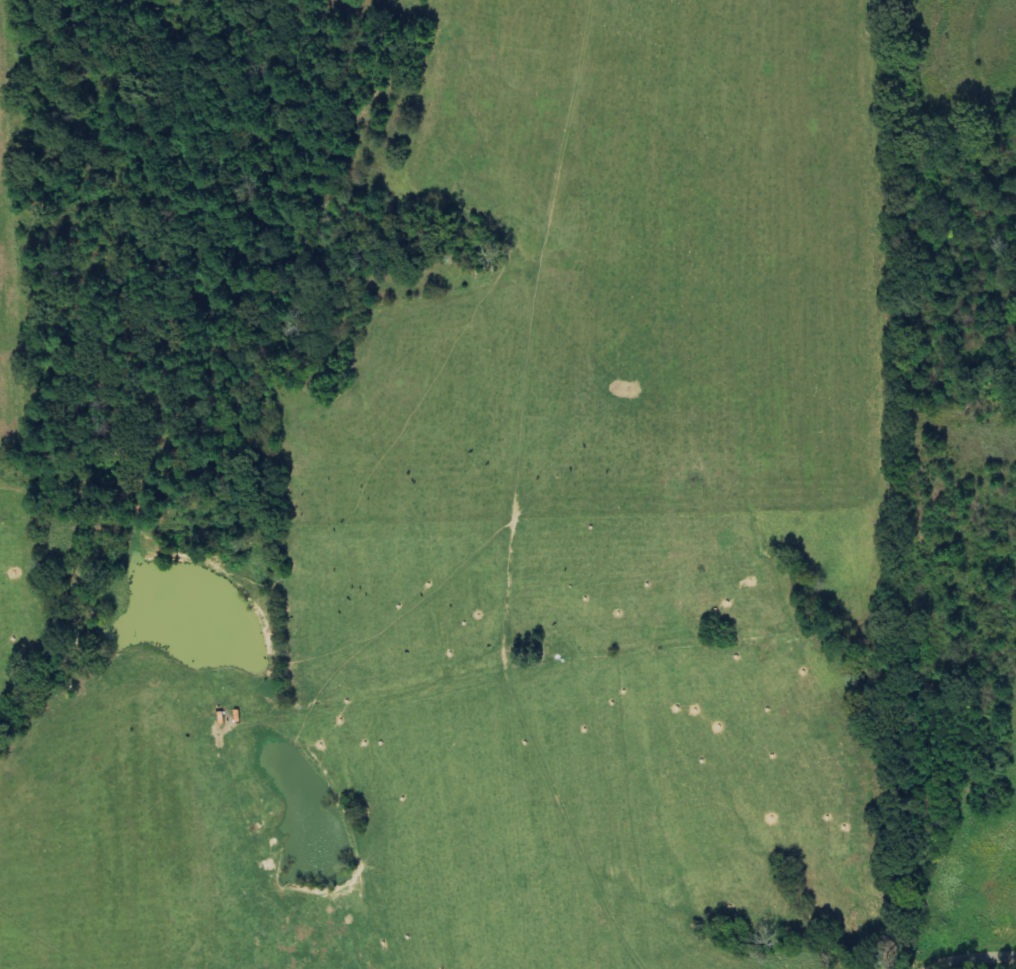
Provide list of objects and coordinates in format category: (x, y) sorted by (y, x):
road: (971, 957)

